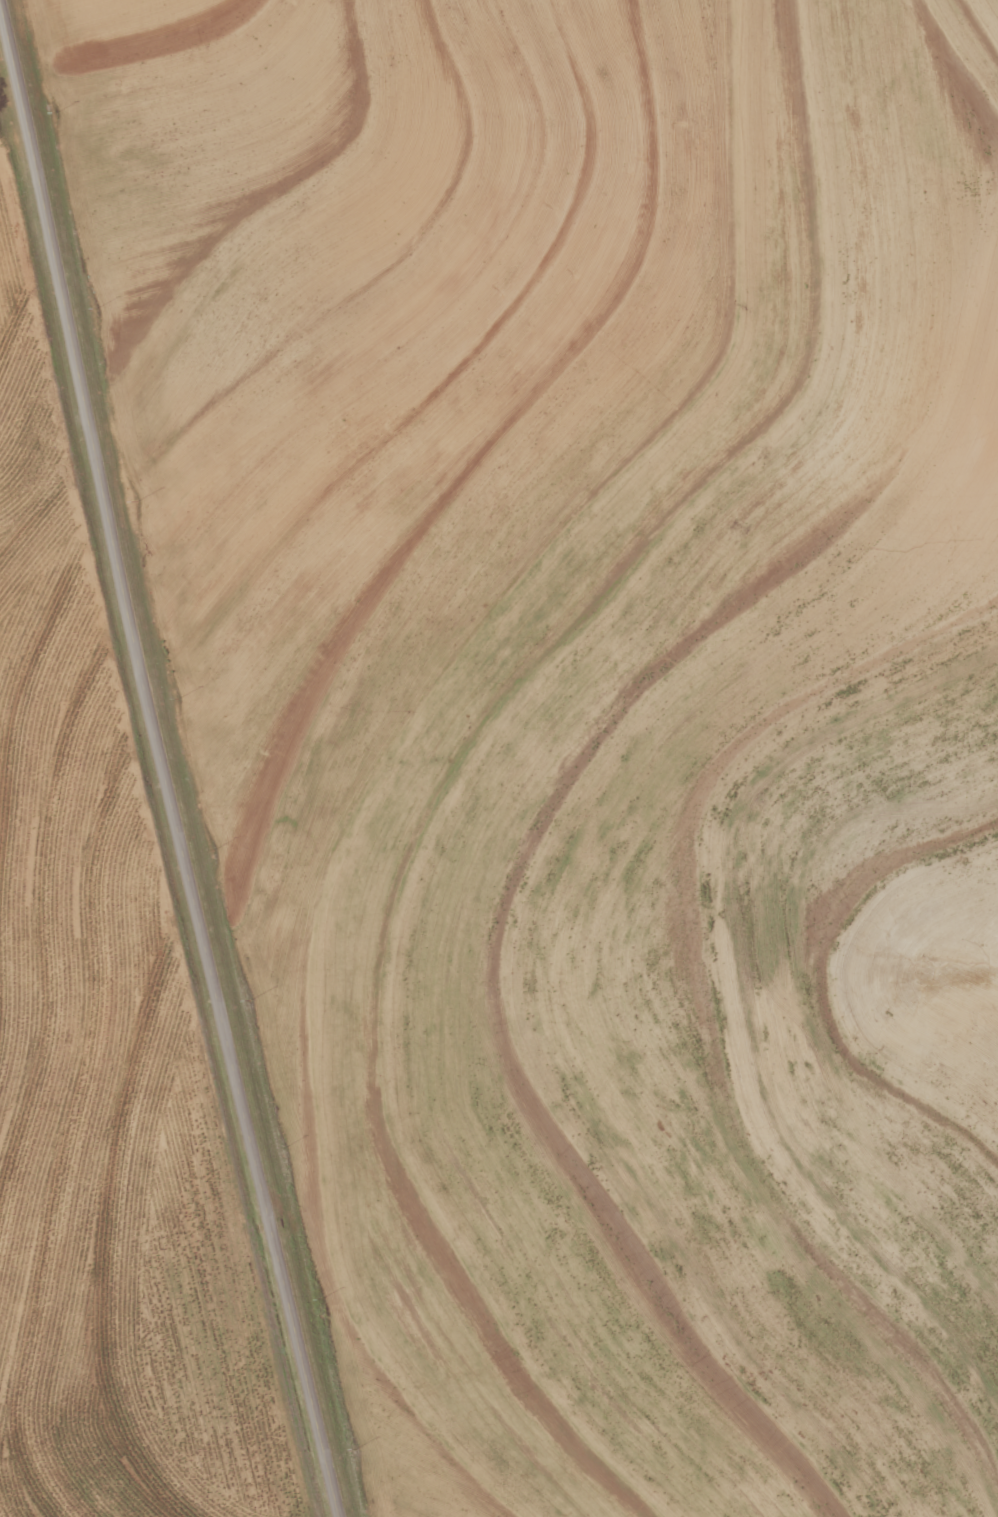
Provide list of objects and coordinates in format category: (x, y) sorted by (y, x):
road: (164, 762)

